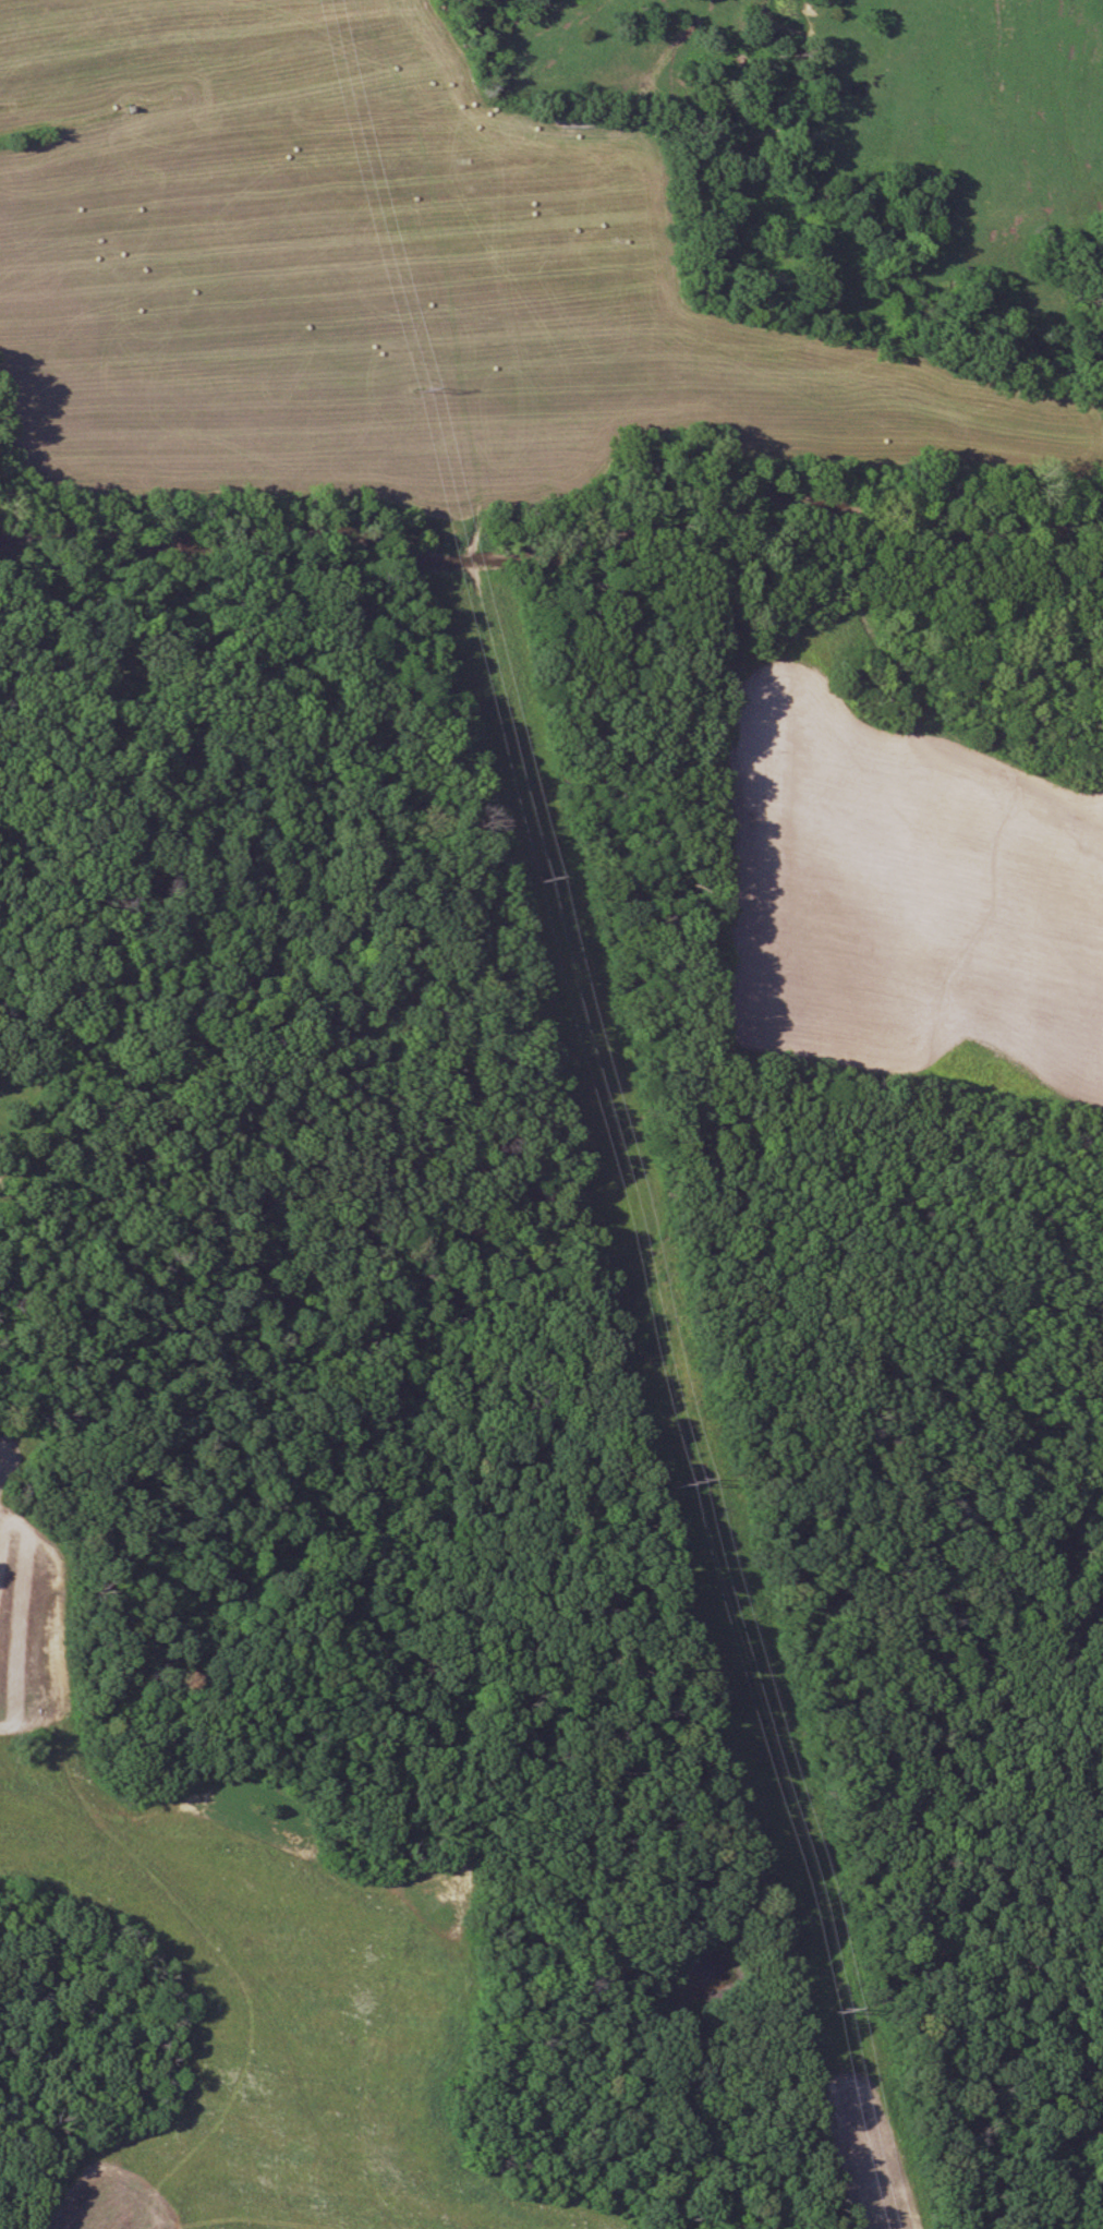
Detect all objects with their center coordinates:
power tower: (433, 382)
power tower: (554, 878)
power tower: (702, 1482)
power tower: (846, 2011)

